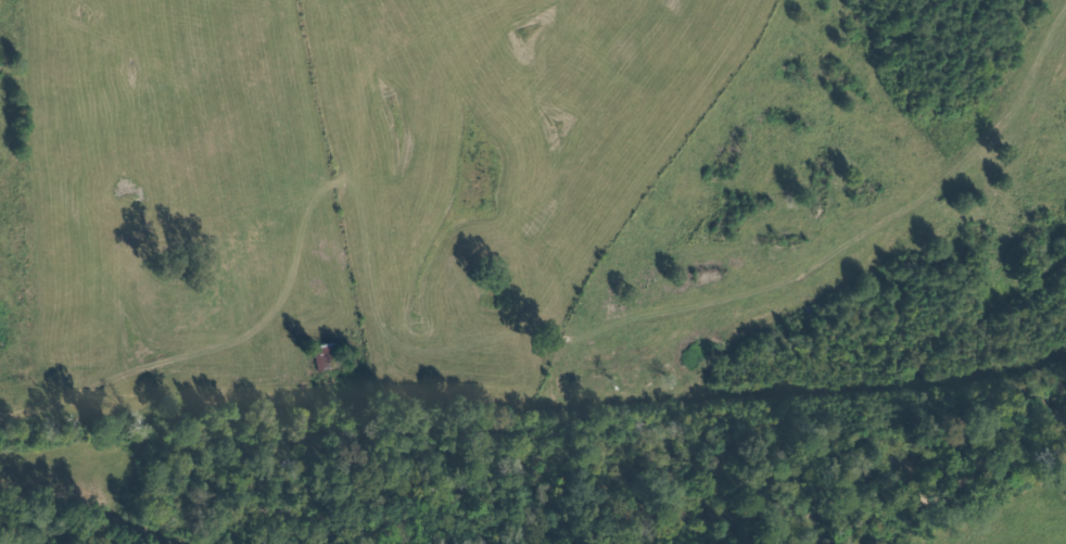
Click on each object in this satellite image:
building: (321, 356)
road: (160, 359)

